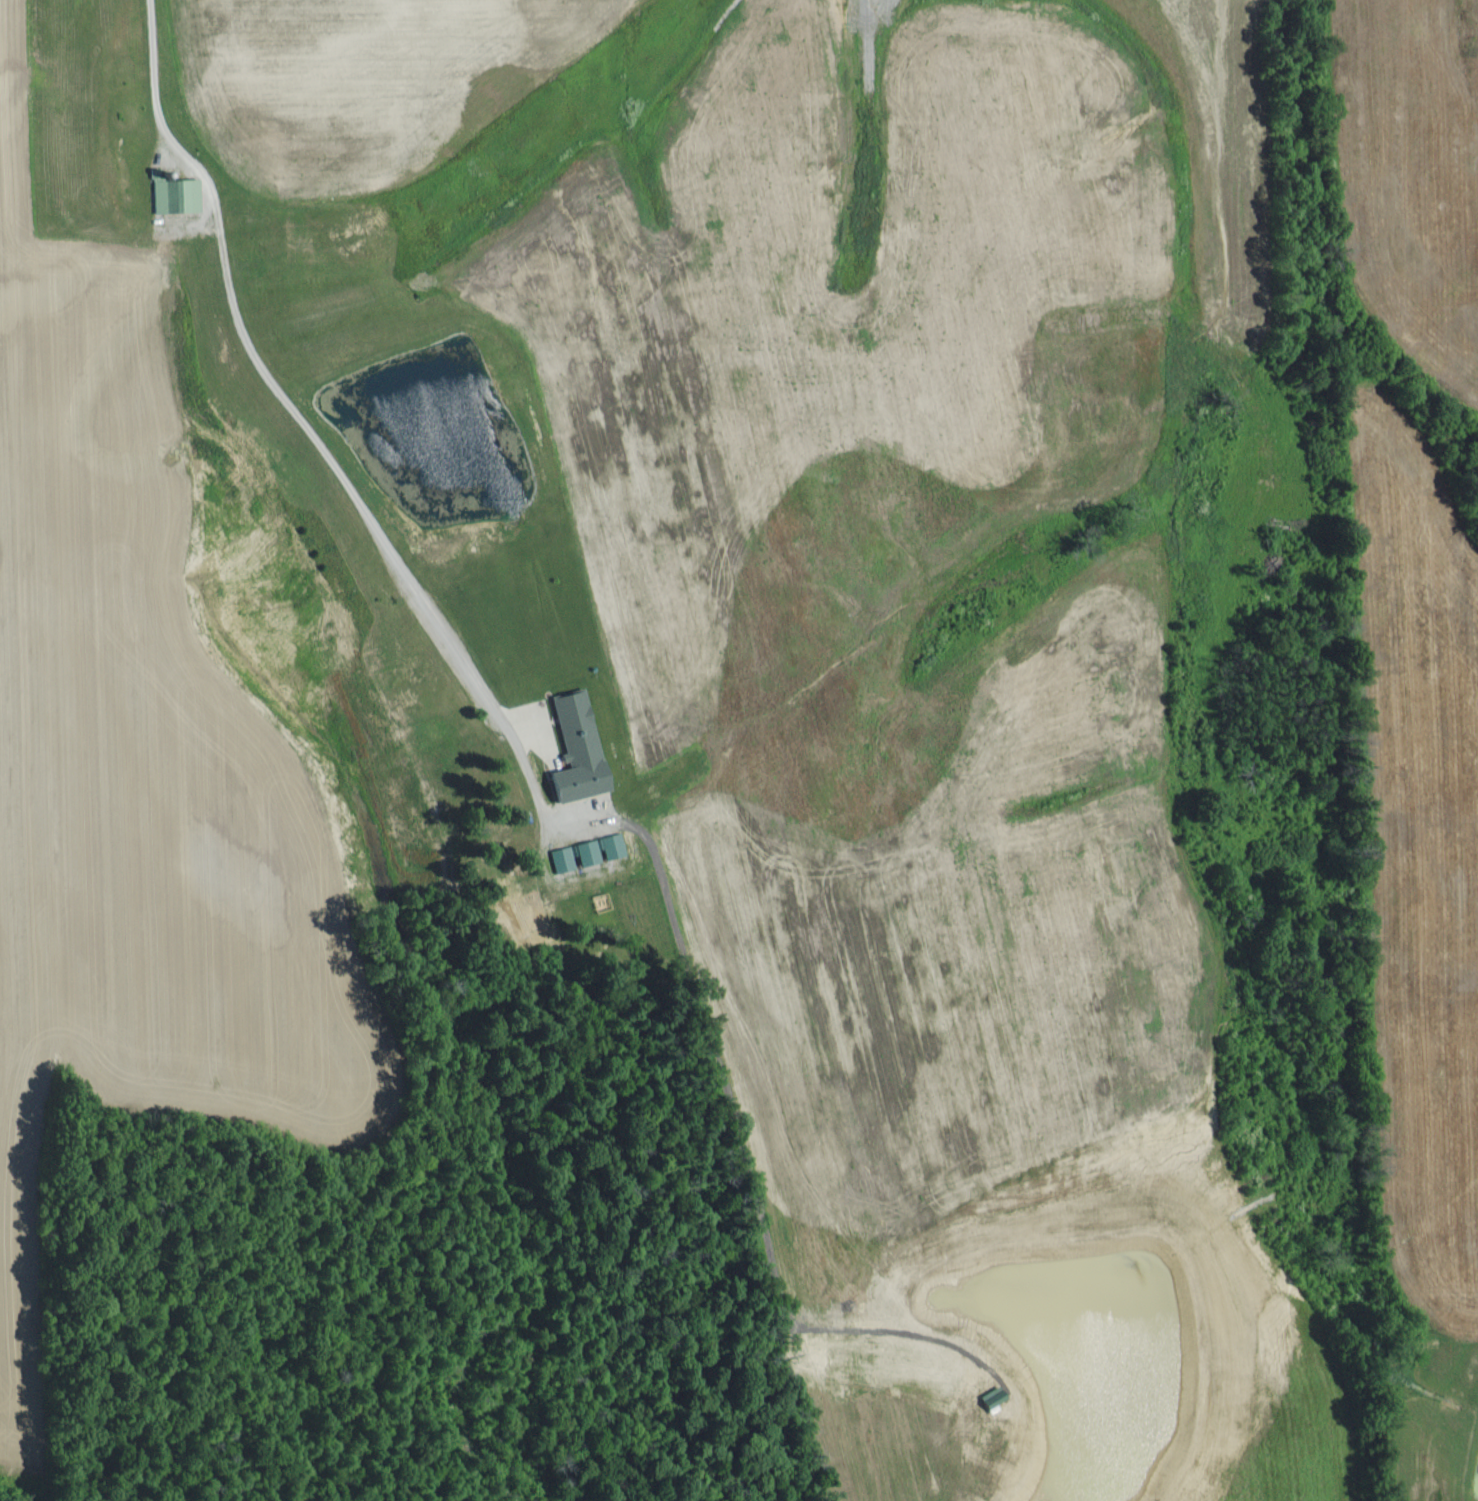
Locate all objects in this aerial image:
road: (155, 70)
building: (172, 194)
building: (573, 749)
building: (608, 844)

